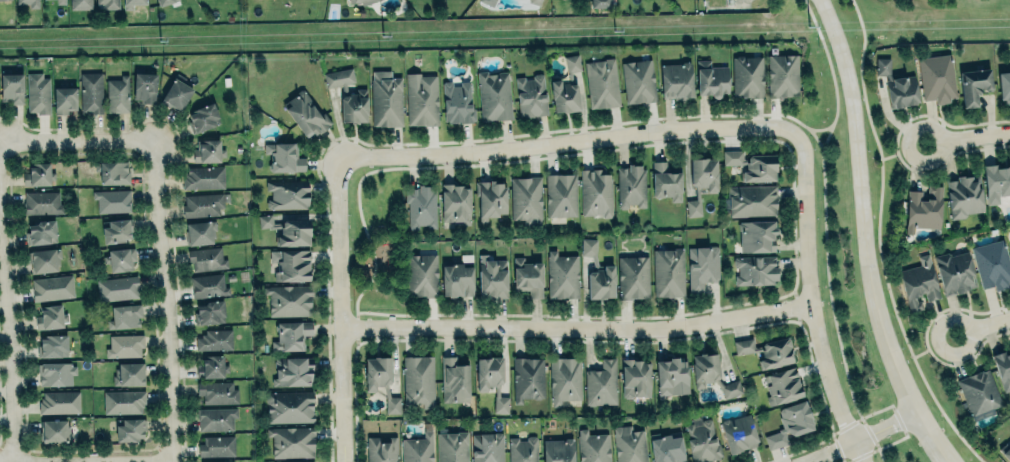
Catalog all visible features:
building: (6, 0)
building: (60, 1)
building: (163, 1)
building: (352, 1)
building: (365, 1)
building: (534, 1)
building: (30, 2)
building: (488, 2)
building: (109, 3)
building: (131, 3)
building: (600, 3)
building: (80, 4)
building: (783, 74)
building: (746, 75)
building: (338, 77)
building: (937, 77)
building: (676, 79)
building: (711, 79)
building: (639, 80)
building: (602, 82)
building: (897, 84)
building: (973, 85)
building: (144, 86)
building: (1004, 86)
building: (11, 87)
building: (567, 87)
building: (36, 92)
building: (91, 92)
building: (117, 94)
building: (176, 94)
building: (531, 95)
building: (494, 96)
building: (386, 98)
building: (64, 99)
building: (421, 99)
building: (457, 102)
building: (354, 106)
building: (305, 113)
building: (203, 117)
road: (828, 126)
road: (968, 138)
road: (77, 141)
road: (568, 144)
building: (207, 151)
road: (891, 154)
building: (283, 156)
building: (752, 164)
building: (112, 172)
building: (38, 174)
building: (203, 177)
building: (666, 181)
building: (701, 181)
building: (996, 182)
building: (631, 185)
building: (596, 192)
building: (287, 194)
building: (561, 194)
building: (963, 196)
building: (491, 198)
building: (526, 199)
building: (112, 200)
building: (752, 200)
building: (42, 202)
building: (202, 204)
building: (455, 204)
building: (420, 206)
building: (923, 208)
building: (117, 230)
building: (287, 230)
building: (40, 232)
building: (199, 232)
building: (755, 234)
road: (861, 236)
building: (206, 258)
building: (44, 259)
building: (119, 259)
building: (290, 264)
building: (991, 264)
building: (703, 266)
building: (755, 269)
building: (598, 272)
building: (667, 272)
building: (954, 272)
building: (422, 275)
building: (562, 275)
building: (492, 276)
building: (527, 276)
building: (633, 277)
building: (457, 280)
building: (918, 282)
building: (208, 285)
building: (52, 287)
building: (118, 287)
building: (288, 300)
road: (170, 301)
road: (813, 301)
road: (341, 310)
building: (208, 312)
building: (124, 316)
building: (50, 317)
road: (578, 326)
road: (983, 327)
building: (291, 335)
building: (214, 340)
road: (13, 342)
building: (52, 345)
building: (124, 345)
building: (767, 351)
road: (925, 352)
building: (211, 366)
building: (1002, 369)
building: (292, 371)
building: (55, 372)
building: (129, 374)
building: (712, 374)
building: (672, 376)
building: (528, 378)
building: (635, 378)
building: (565, 379)
building: (380, 380)
building: (418, 380)
building: (454, 380)
building: (492, 380)
building: (602, 383)
building: (781, 385)
building: (216, 392)
building: (979, 392)
building: (123, 401)
building: (58, 402)
building: (290, 406)
building: (215, 417)
building: (790, 423)
building: (130, 429)
building: (55, 431)
building: (738, 433)
road: (859, 438)
building: (701, 440)
building: (292, 441)
building: (629, 444)
building: (451, 445)
building: (216, 446)
building: (593, 446)
building: (488, 447)
building: (666, 447)
building: (417, 448)
building: (381, 449)
building: (523, 449)
building: (558, 451)
building: (1006, 453)
road: (3, 461)
building: (219, 461)

